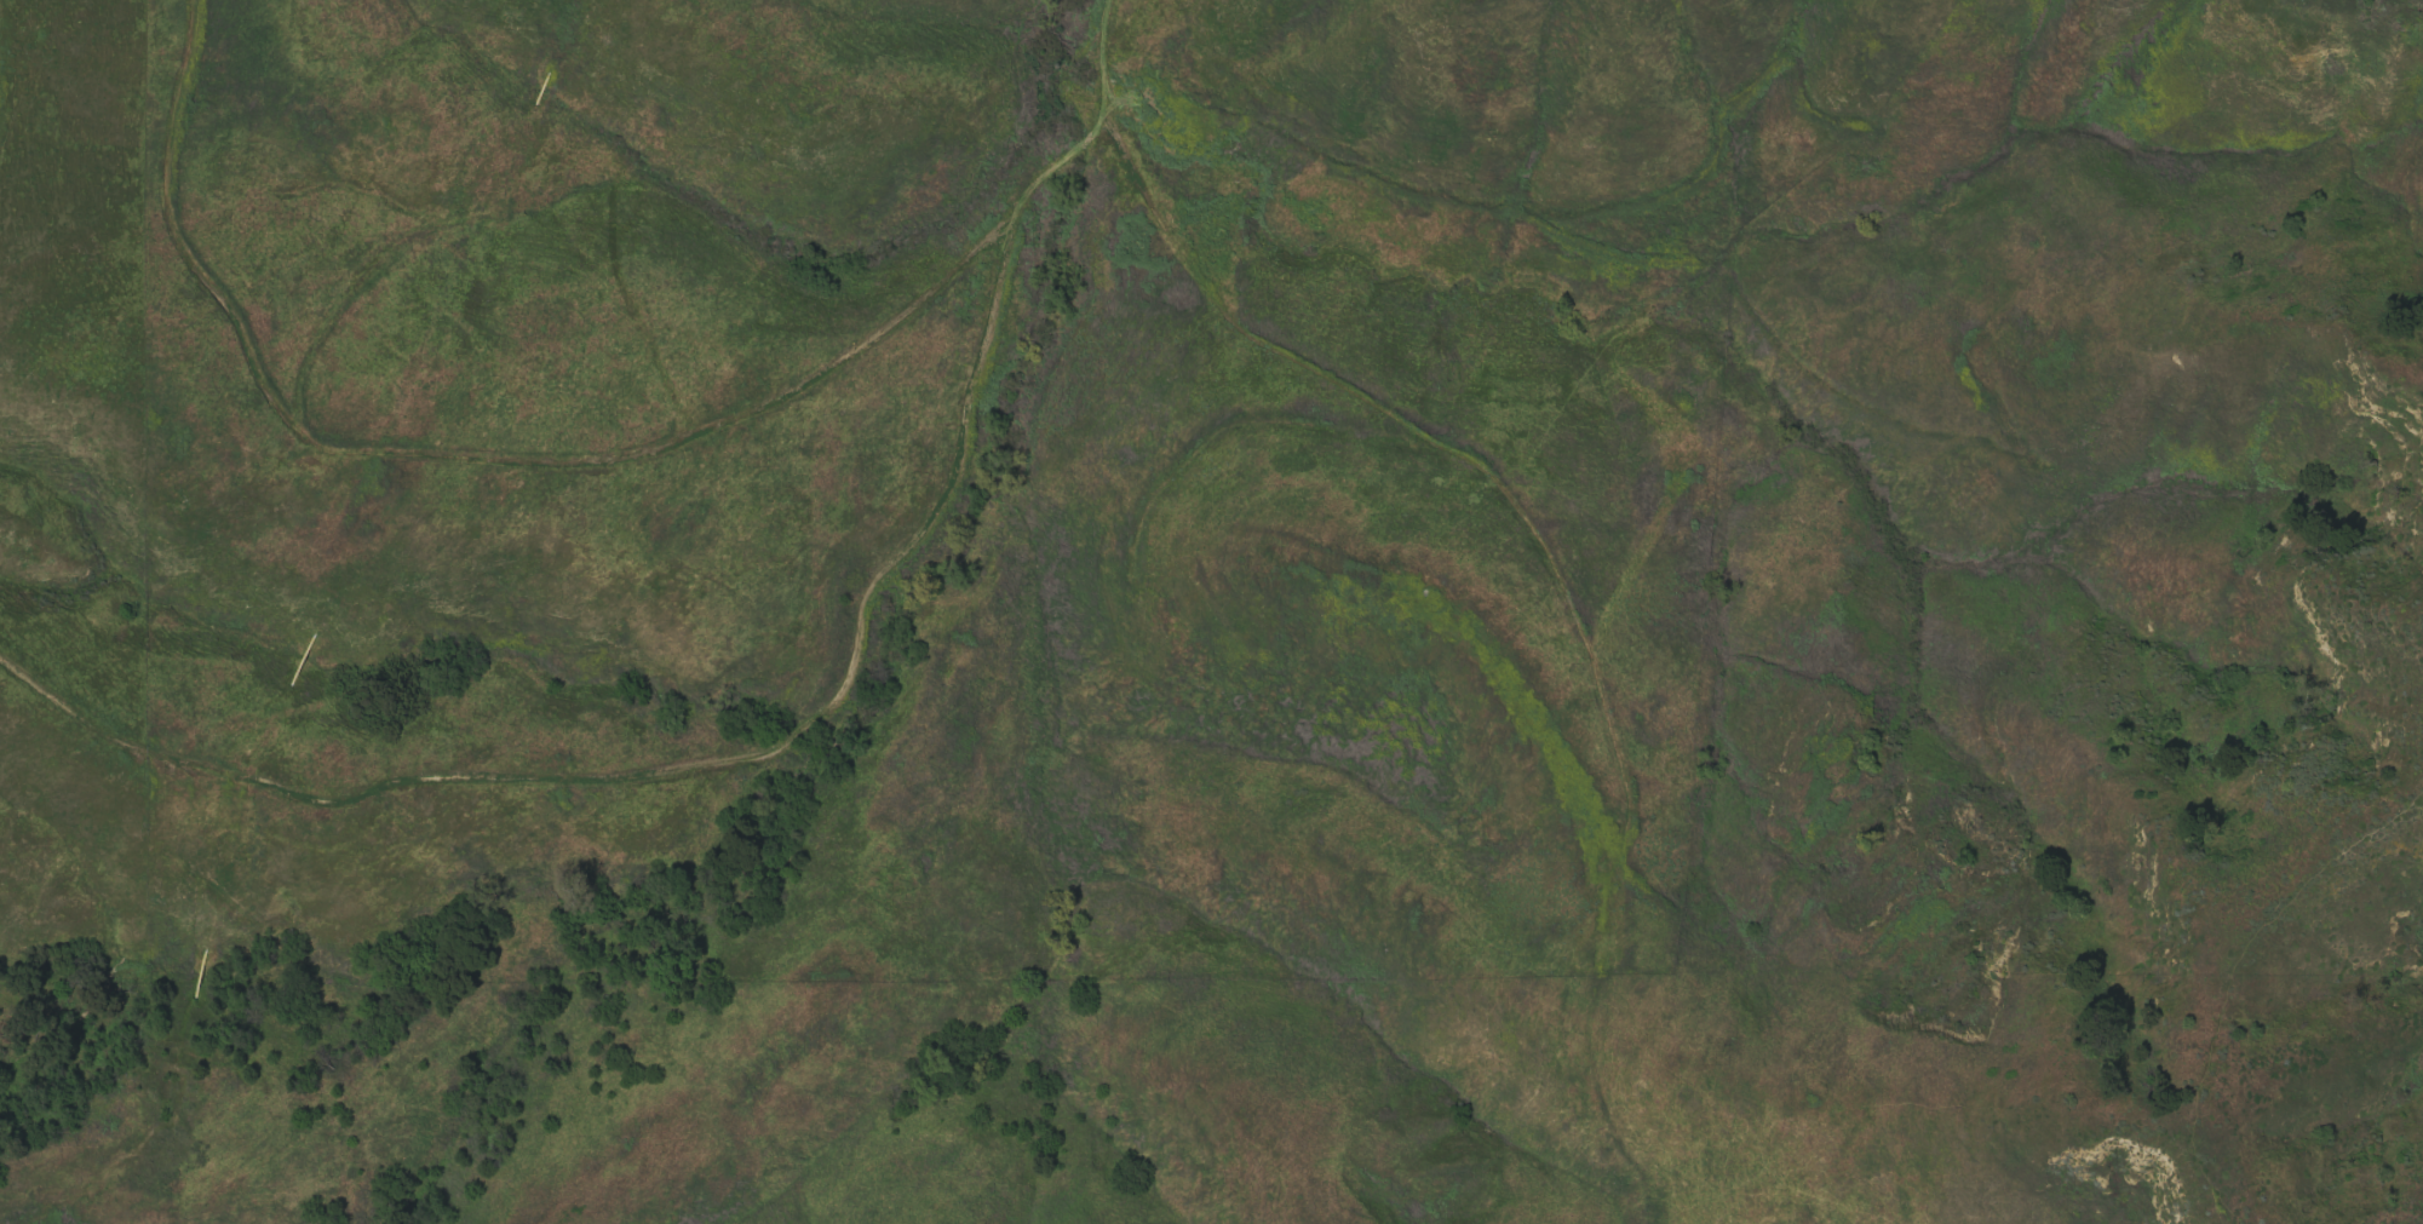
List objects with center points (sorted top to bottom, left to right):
road: (1416, 447)

